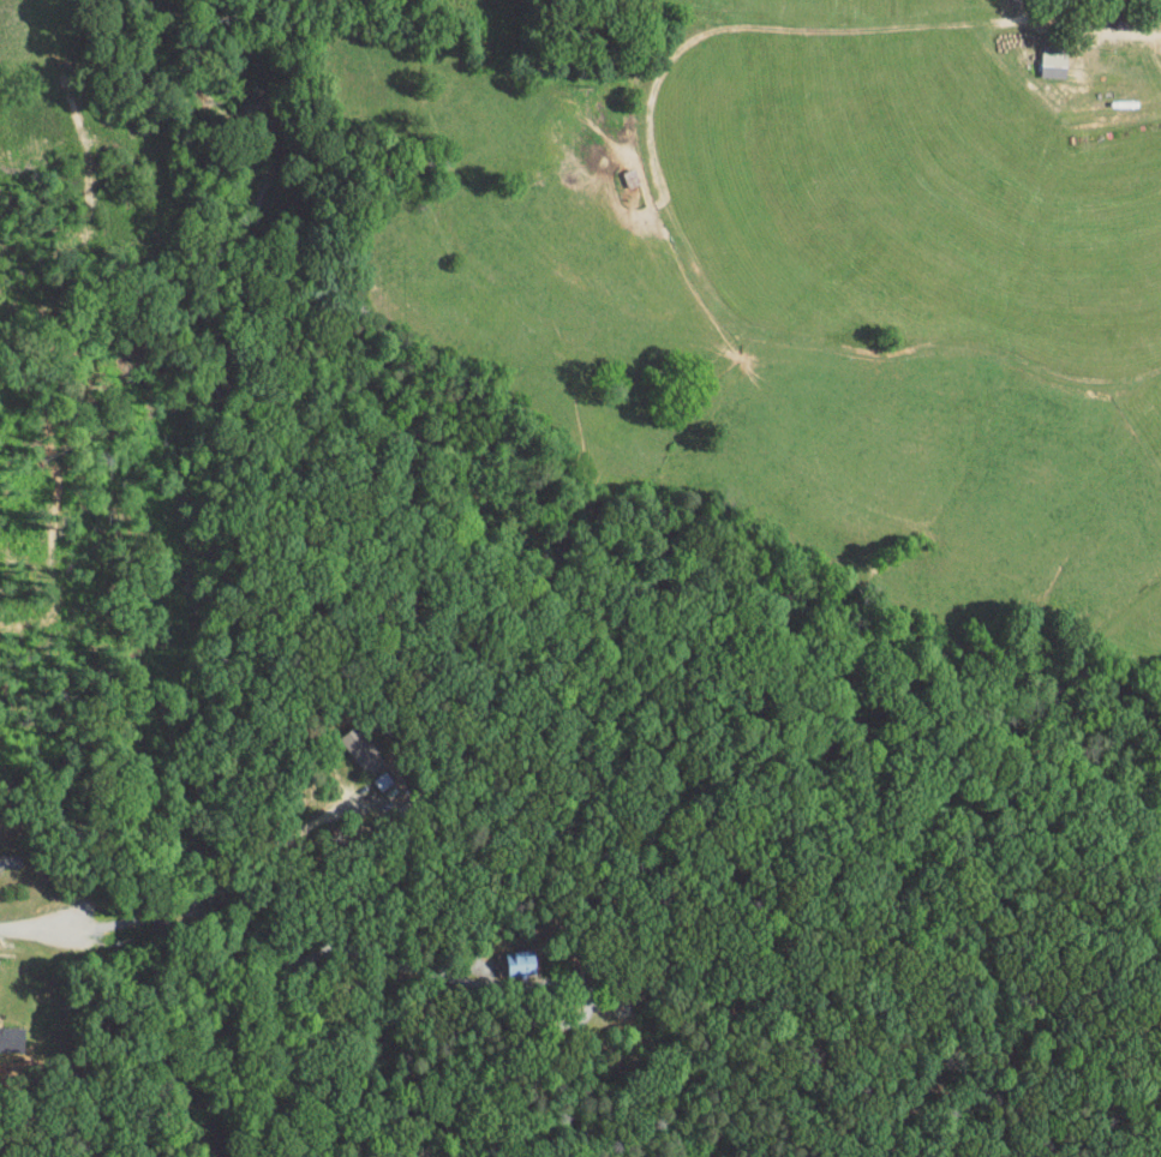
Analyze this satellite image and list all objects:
road: (1085, 20)
building: (1042, 53)
building: (345, 742)
road: (274, 849)
road: (35, 925)
building: (507, 954)
road: (307, 955)
building: (5, 1031)

